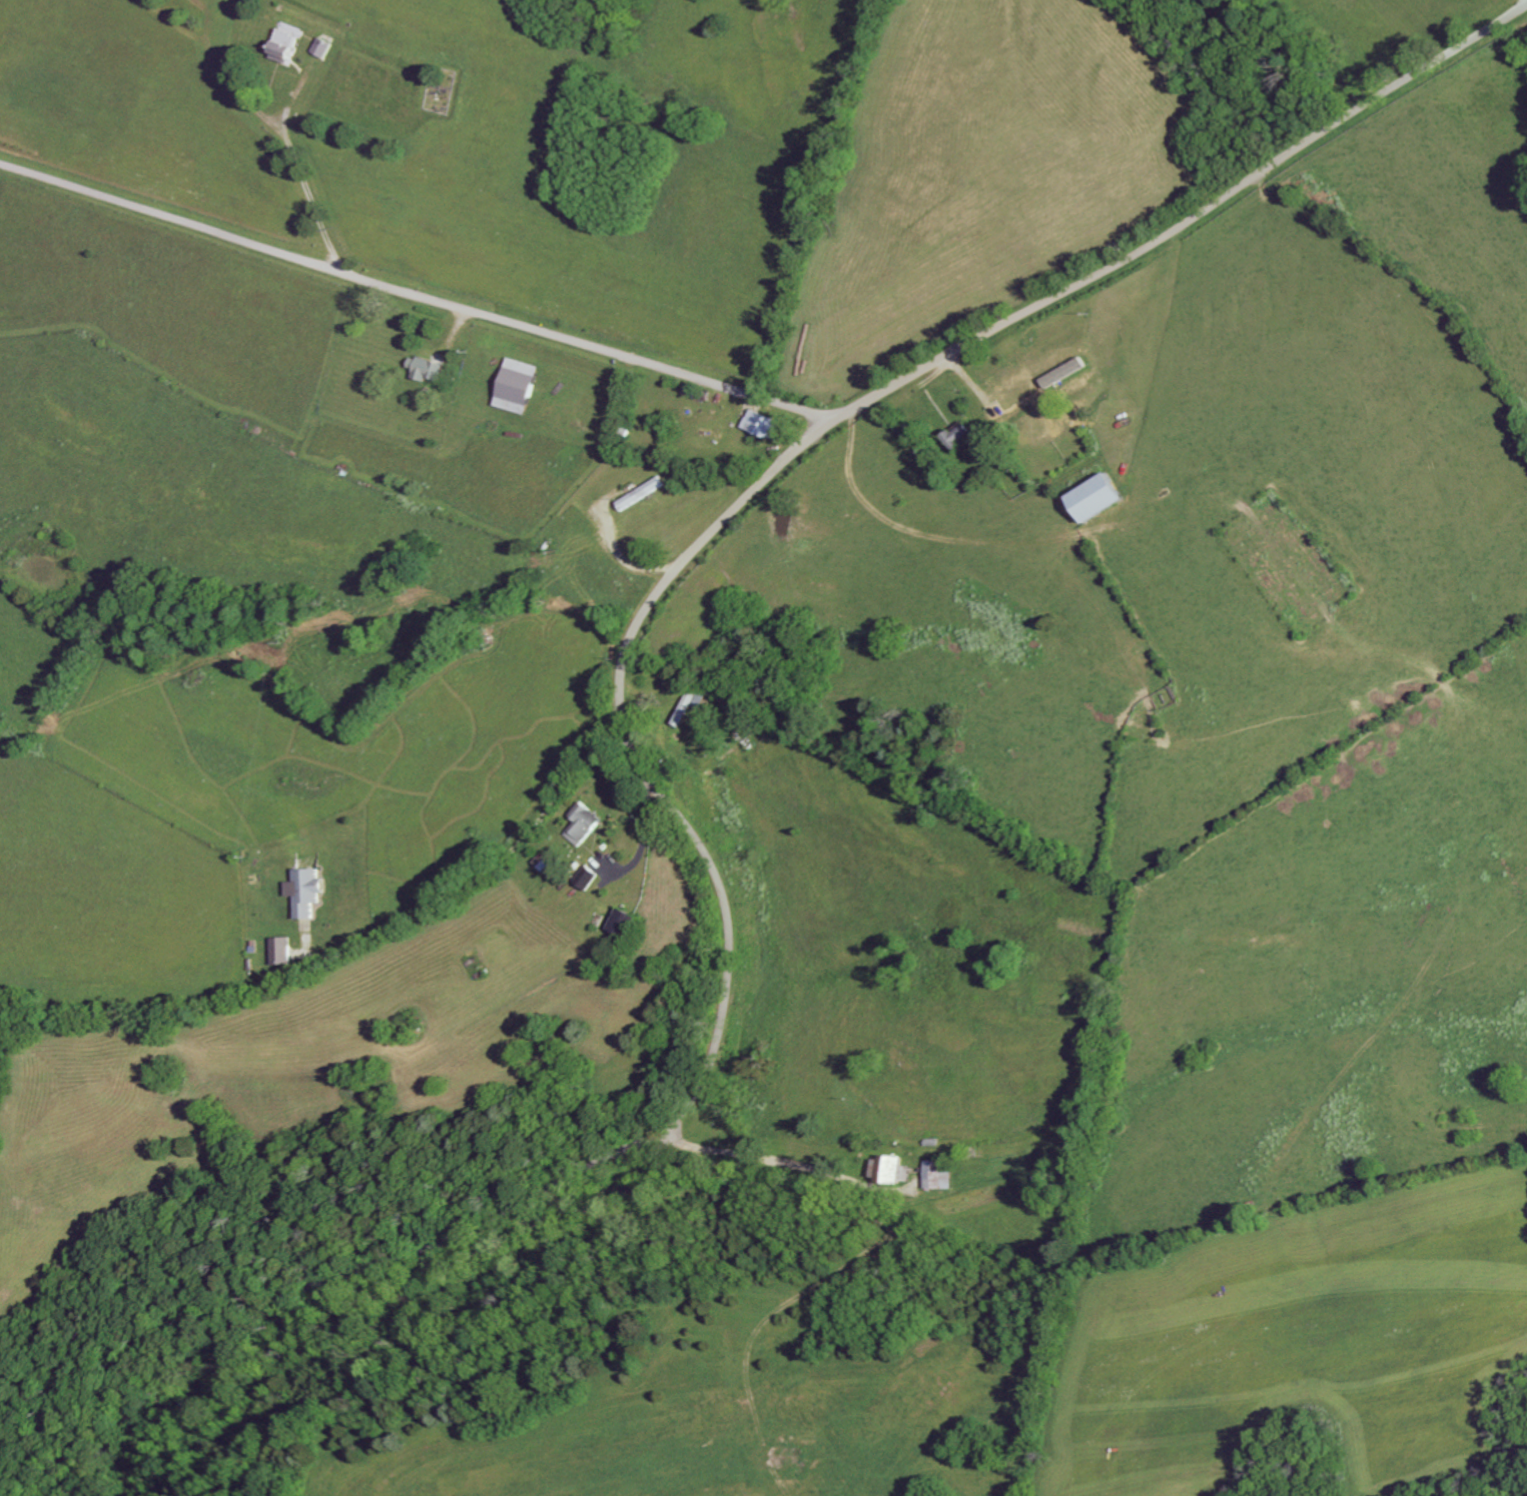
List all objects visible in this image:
building: (288, 44)
building: (326, 49)
road: (299, 169)
road: (416, 294)
building: (427, 371)
building: (519, 387)
building: (763, 426)
building: (961, 437)
building: (643, 495)
building: (1097, 500)
road: (624, 561)
road: (623, 711)
building: (586, 826)
building: (590, 879)
building: (307, 894)
building: (628, 925)
road: (353, 945)
building: (283, 953)
road: (766, 1149)
building: (892, 1171)
building: (939, 1175)

